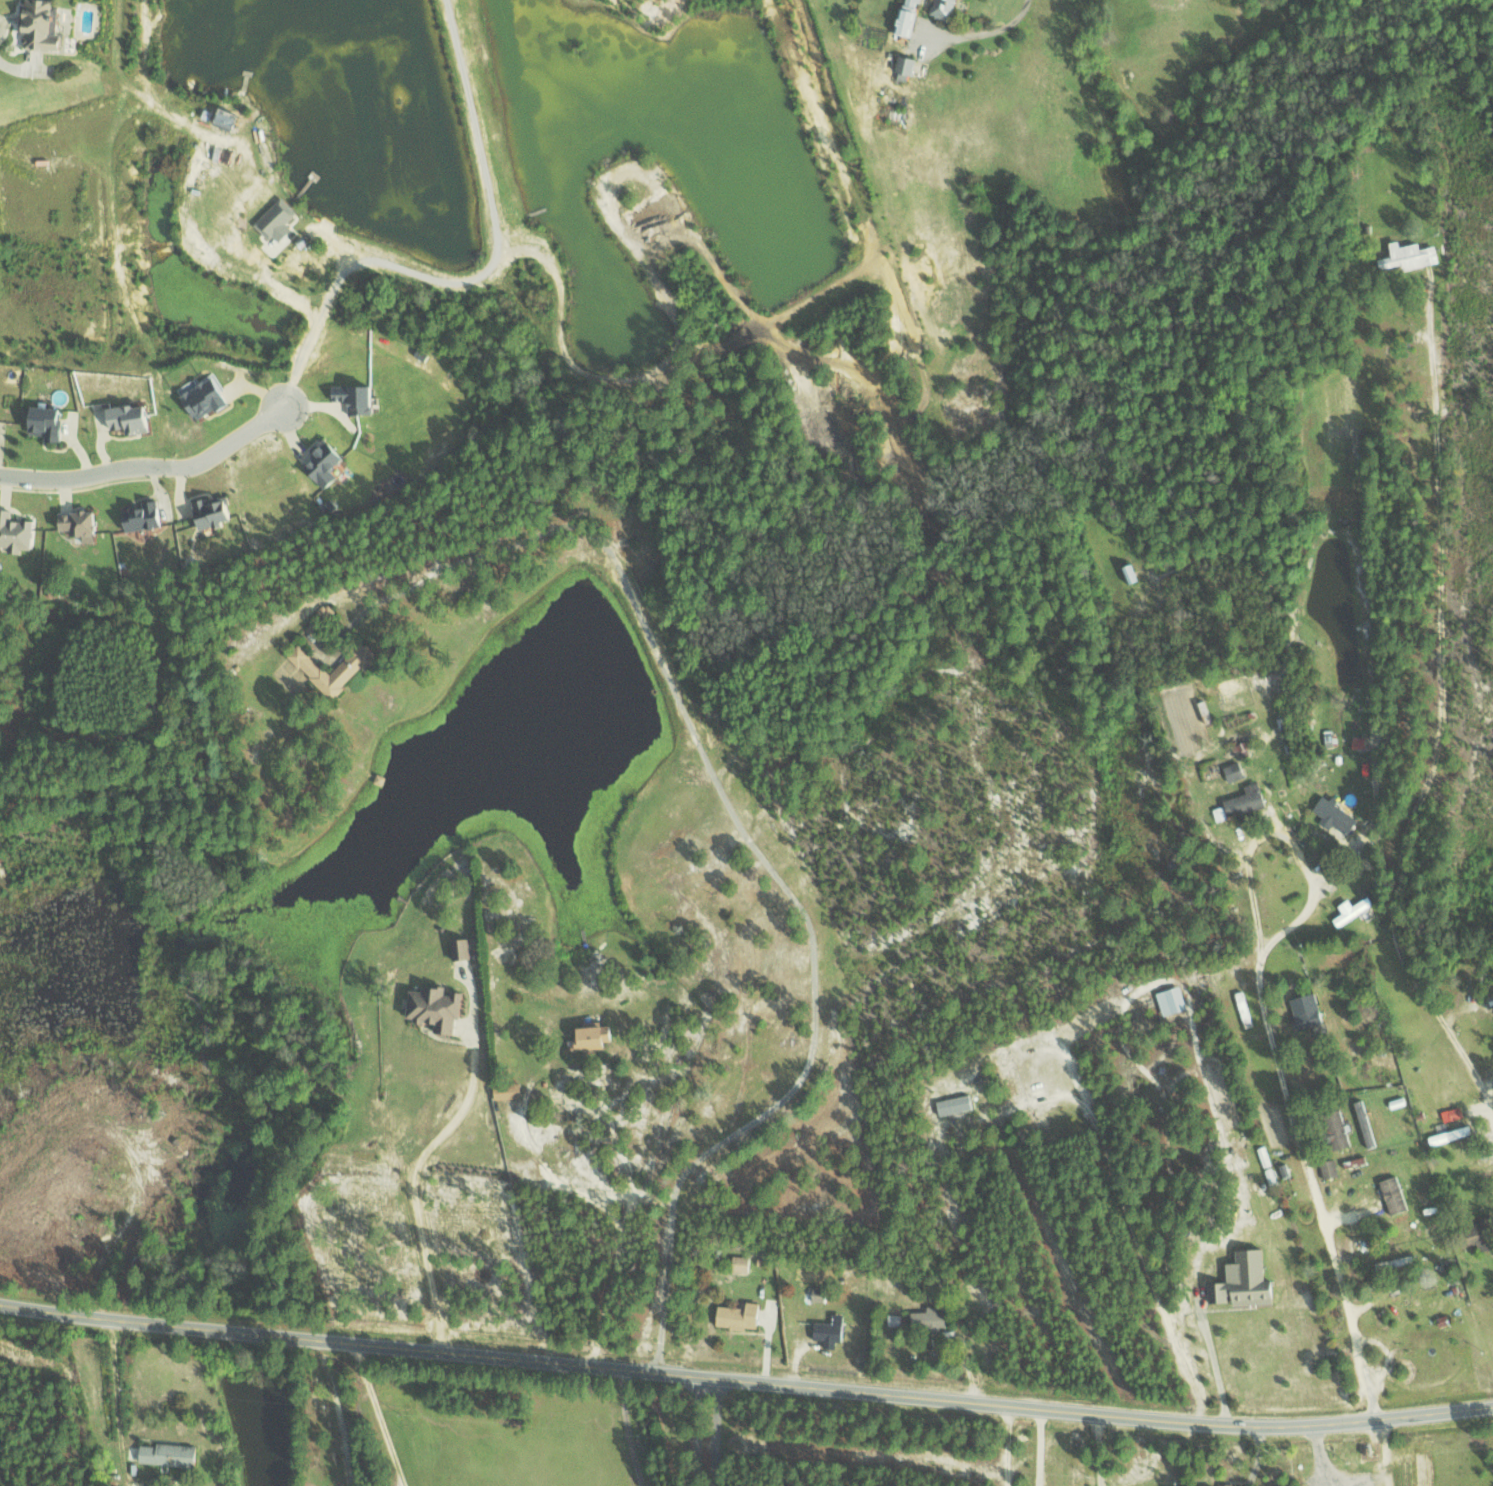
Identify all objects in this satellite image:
building: (948, 9)
building: (910, 17)
road: (987, 32)
building: (908, 68)
building: (230, 119)
building: (280, 221)
building: (1408, 256)
road: (321, 314)
building: (209, 396)
building: (360, 397)
building: (136, 416)
building: (51, 421)
building: (327, 461)
road: (149, 466)
building: (217, 511)
building: (147, 515)
building: (83, 523)
building: (16, 532)
road: (1353, 655)
building: (317, 669)
road: (1441, 708)
building: (1231, 771)
building: (1242, 800)
building: (1331, 815)
road: (1310, 872)
building: (1348, 910)
building: (463, 949)
building: (1168, 1000)
building: (442, 1007)
building: (1303, 1011)
building: (596, 1038)
building: (512, 1091)
building: (951, 1104)
building: (1450, 1113)
building: (1333, 1129)
building: (1440, 1137)
building: (1327, 1168)
road: (1314, 1189)
building: (1392, 1194)
building: (1242, 1280)
building: (816, 1294)
building: (735, 1316)
building: (927, 1319)
building: (827, 1331)
road: (746, 1380)
road: (701, 1431)
building: (171, 1454)

